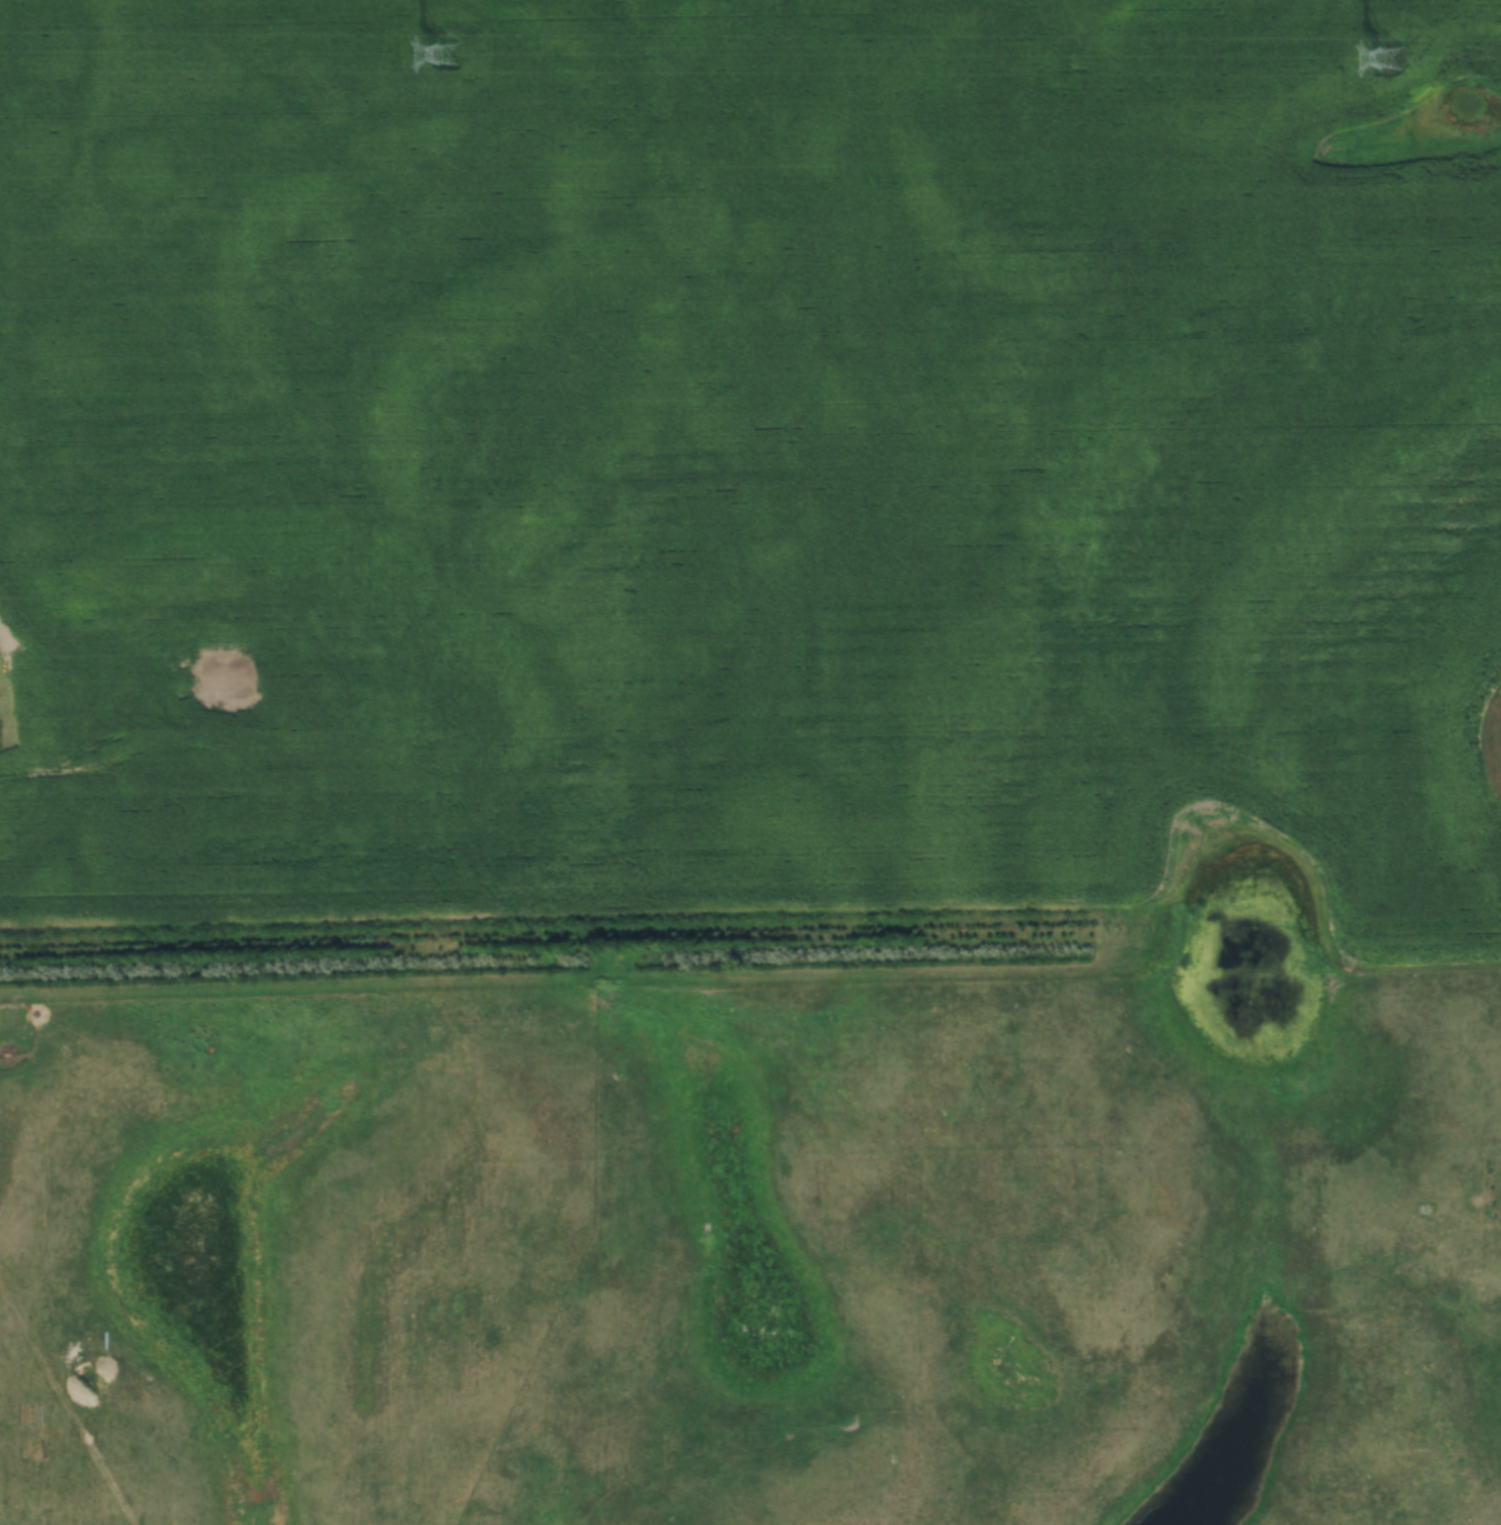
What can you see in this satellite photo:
power tower: (450, 56)
power tower: (1398, 58)

